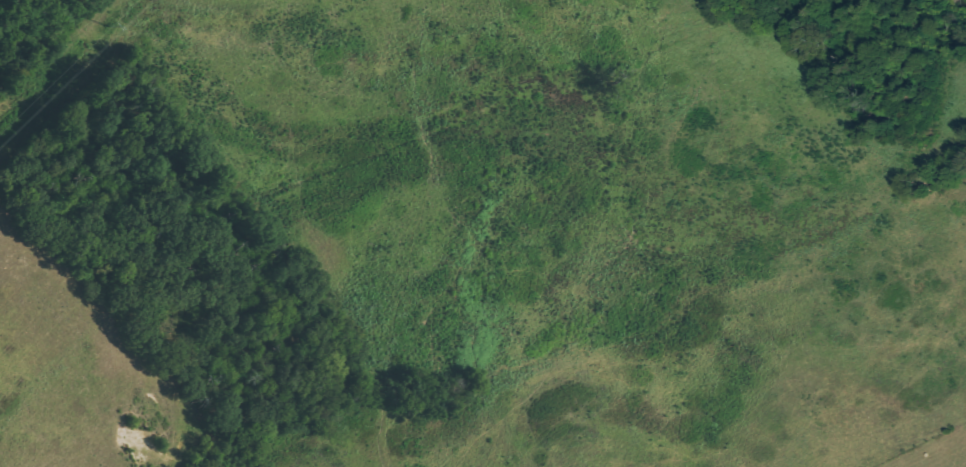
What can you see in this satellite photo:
power tower: (105, 28)

